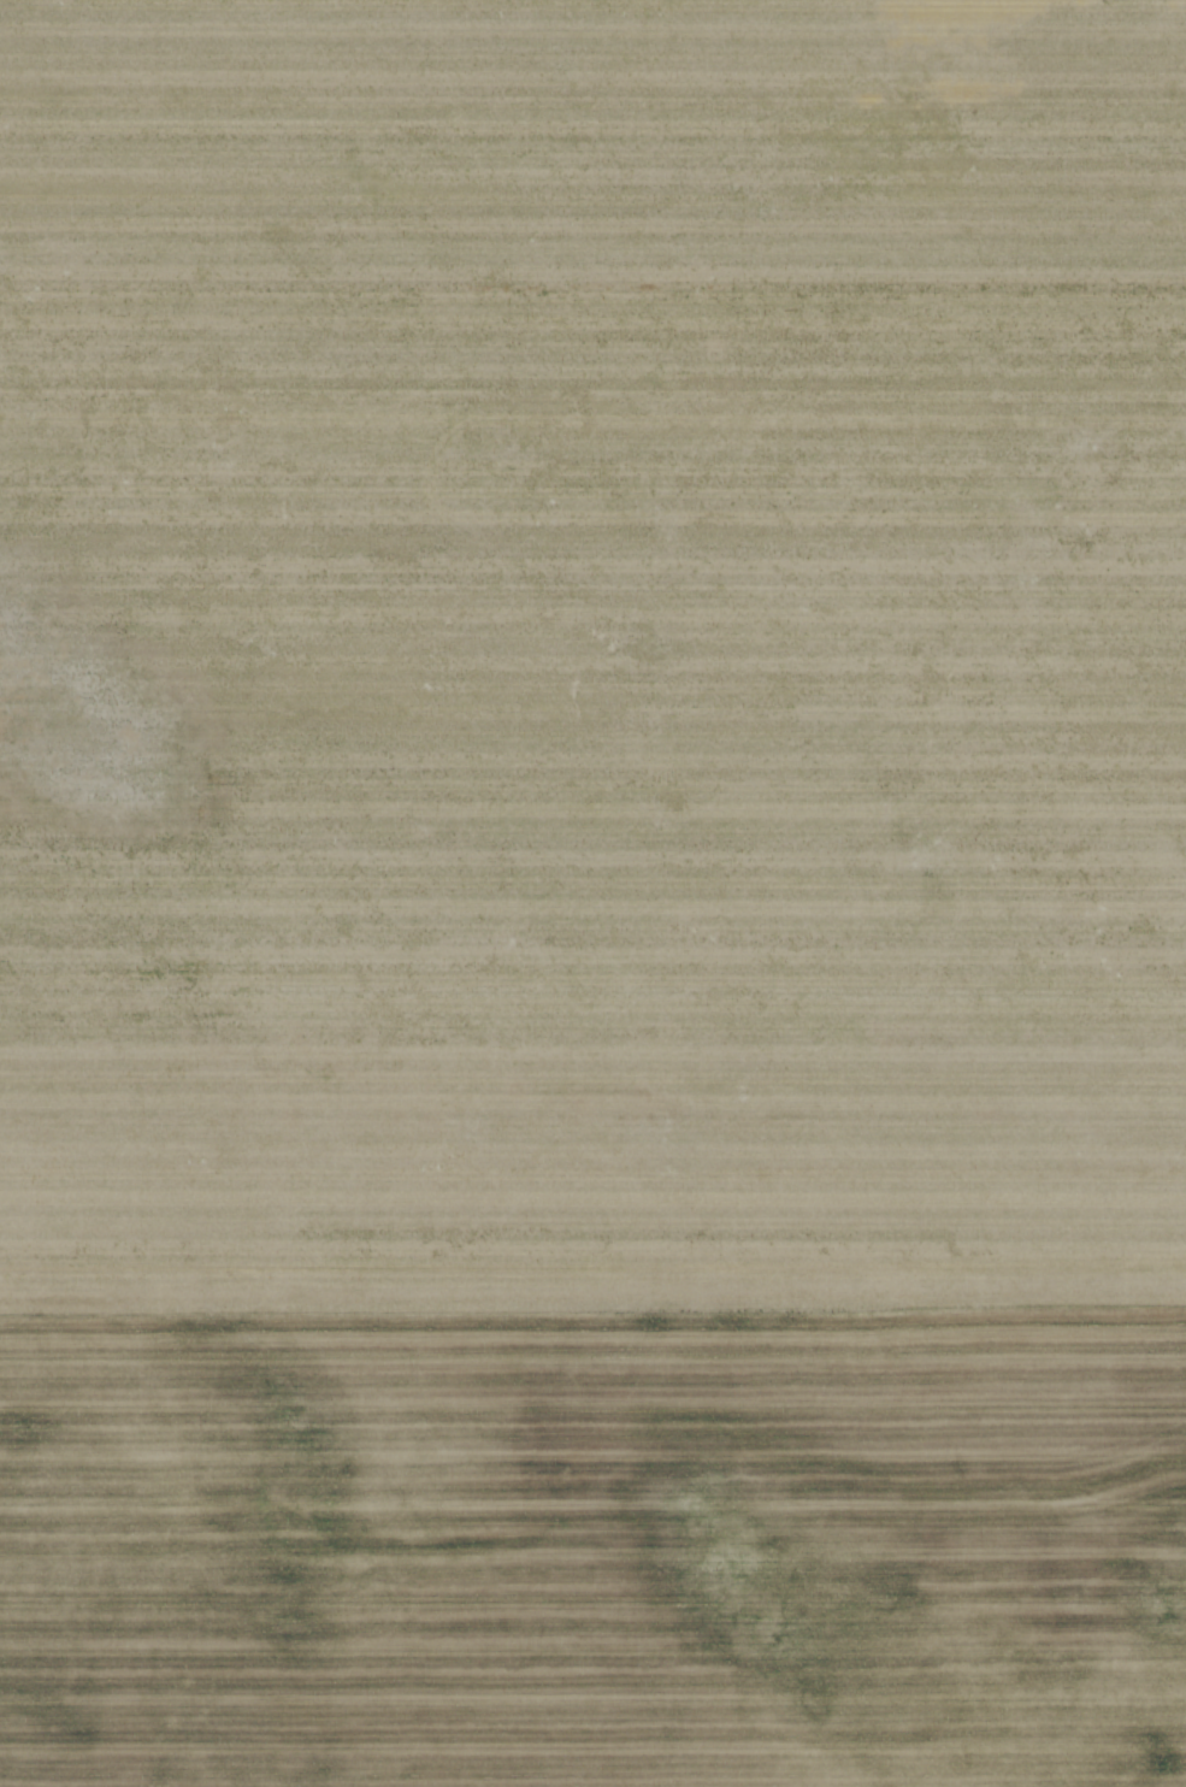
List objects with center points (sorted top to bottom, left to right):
crop: (592, 893)

